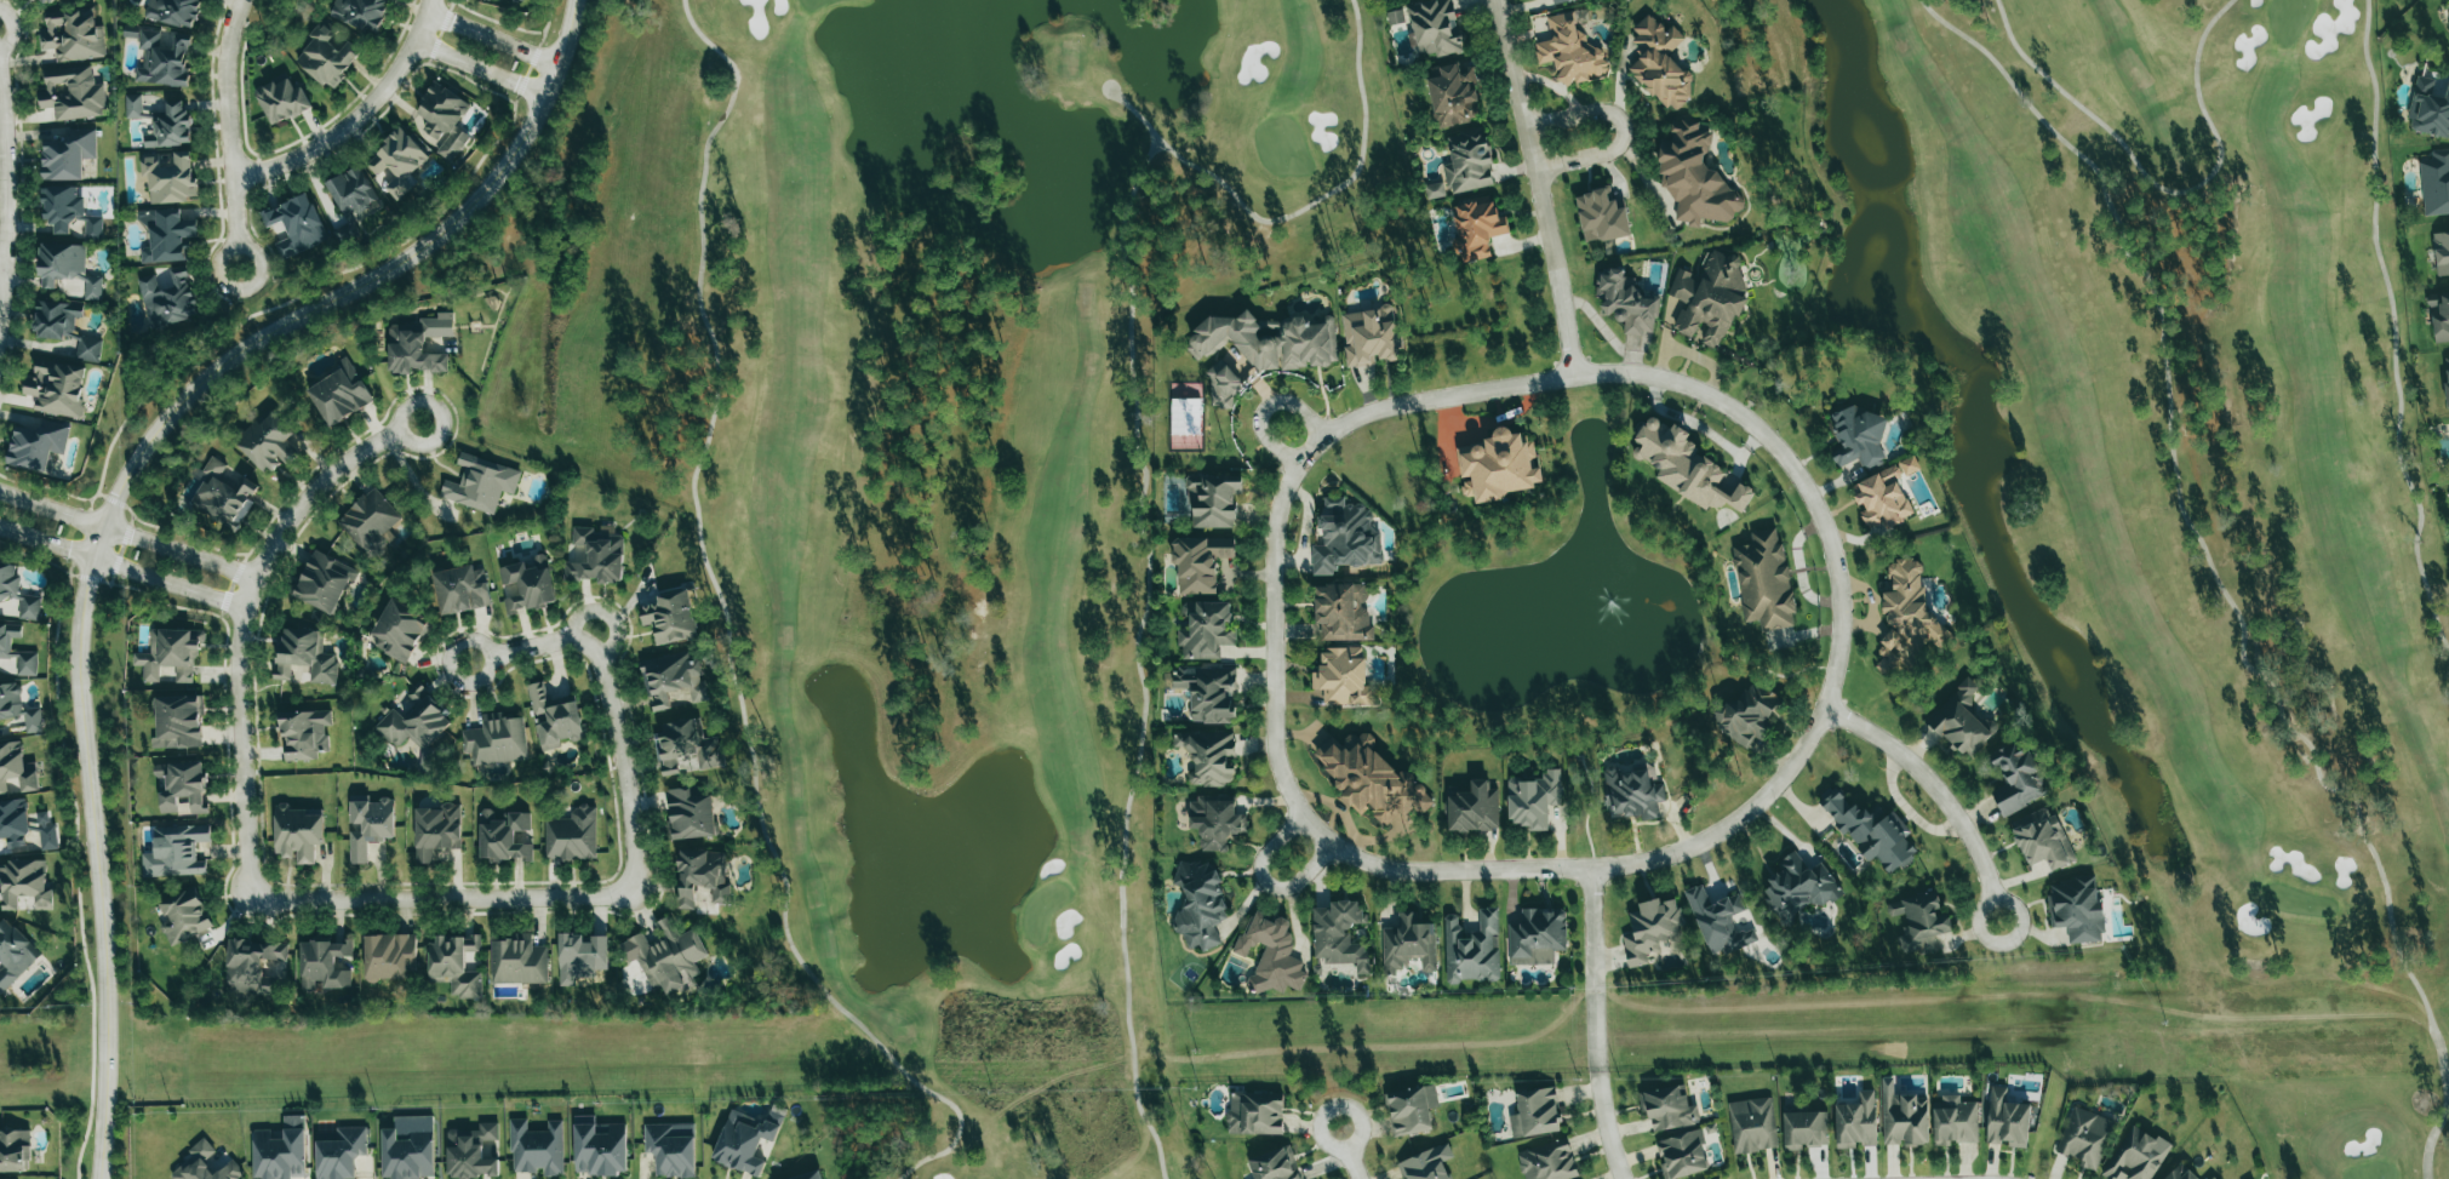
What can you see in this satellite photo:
building: (520, 0)
building: (47, 1)
building: (1560, 1)
building: (174, 12)
building: (361, 13)
building: (1395, 17)
road: (423, 21)
building: (1435, 27)
building: (130, 30)
building: (74, 35)
road: (492, 38)
building: (1570, 51)
building: (327, 56)
building: (164, 59)
building: (1660, 63)
road: (480, 69)
building: (71, 93)
building: (1453, 96)
building: (281, 101)
building: (132, 105)
building: (2428, 109)
building: (444, 120)
building: (170, 127)
road: (1620, 128)
road: (341, 131)
road: (229, 136)
building: (68, 155)
building: (397, 162)
building: (1467, 164)
building: (1694, 176)
building: (170, 177)
building: (2434, 183)
road: (1537, 187)
building: (1435, 190)
building: (351, 191)
road: (6, 194)
building: (68, 211)
building: (1601, 216)
building: (296, 225)
building: (1476, 229)
building: (166, 235)
building: (2441, 252)
road: (1, 268)
building: (67, 268)
building: (168, 298)
building: (1710, 298)
building: (1626, 302)
building: (2439, 315)
building: (56, 319)
building: (1371, 336)
building: (419, 345)
building: (87, 348)
road: (1675, 379)
building: (1221, 385)
building: (57, 389)
building: (341, 394)
road: (1264, 407)
building: (1858, 439)
building: (268, 443)
building: (38, 445)
building: (1498, 465)
building: (1909, 465)
building: (1686, 467)
park: (940, 482)
park: (940, 482)
building: (480, 483)
park: (2179, 485)
park: (2179, 485)
road: (119, 491)
building: (223, 496)
building: (1881, 499)
building: (1213, 502)
building: (370, 523)
road: (128, 533)
building: (1345, 537)
building: (597, 555)
building: (1200, 563)
road: (124, 567)
building: (1764, 580)
building: (324, 582)
building: (526, 584)
building: (462, 589)
building: (17, 593)
fountain: (1606, 601)
building: (1343, 612)
building: (670, 617)
building: (1906, 618)
road: (248, 619)
building: (399, 630)
building: (5, 645)
road: (517, 651)
road: (1274, 652)
building: (171, 653)
building: (305, 656)
building: (1343, 677)
building: (674, 682)
building: (1208, 692)
building: (18, 708)
building: (1747, 715)
building: (554, 719)
building: (416, 721)
building: (178, 722)
building: (1964, 723)
building: (304, 733)
building: (496, 740)
building: (686, 748)
road: (622, 755)
building: (16, 769)
building: (2016, 778)
building: (1371, 779)
building: (182, 785)
building: (1632, 791)
road: (1939, 791)
building: (1533, 799)
building: (1474, 808)
building: (690, 813)
building: (1215, 822)
building: (370, 825)
building: (25, 826)
building: (436, 830)
building: (1870, 831)
building: (297, 834)
building: (572, 835)
building: (503, 836)
building: (2042, 840)
road: (1269, 846)
building: (176, 851)
road: (1598, 866)
building: (702, 877)
road: (1303, 877)
building: (24, 885)
building: (1798, 887)
road: (445, 893)
building: (1200, 905)
building: (2076, 909)
building: (183, 916)
building: (1718, 921)
building: (1921, 921)
building: (1650, 929)
building: (1339, 934)
building: (1537, 937)
building: (1408, 944)
building: (1472, 949)
building: (1271, 954)
building: (13, 955)
building: (389, 956)
building: (580, 956)
building: (666, 956)
building: (517, 961)
building: (324, 963)
building: (252, 965)
building: (454, 965)
road: (1595, 969)
building: (1667, 1108)
building: (1411, 1109)
building: (1254, 1112)
building: (1535, 1114)
building: (1904, 1118)
building: (2007, 1120)
building: (1855, 1121)
building: (1955, 1121)
building: (1752, 1124)
road: (1607, 1126)
building: (1804, 1129)
building: (2084, 1137)
building: (746, 1139)
building: (599, 1146)
building: (536, 1147)
building: (671, 1149)
building: (15, 1150)
building: (280, 1151)
building: (339, 1152)
building: (407, 1154)
building: (473, 1154)
road: (1351, 1154)
building: (1682, 1155)
building: (2136, 1156)
building: (1547, 1161)
building: (1426, 1163)
building: (205, 1164)
building: (1275, 1164)
building: (2180, 1173)
building: (808, 1175)
building: (16, 1178)
building: (2211, 1178)

